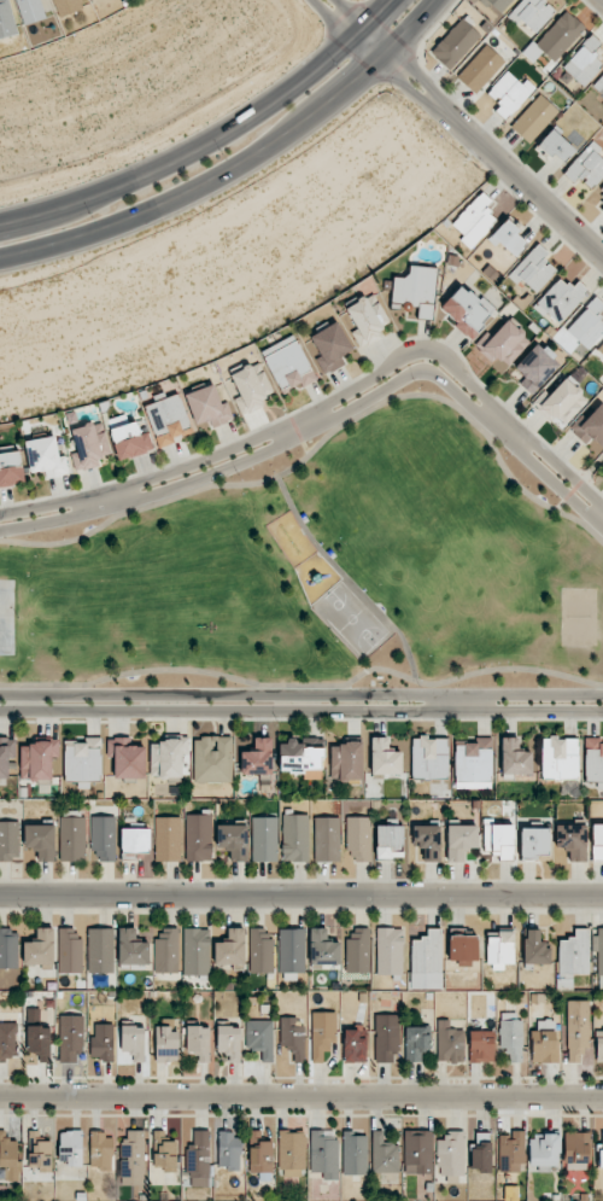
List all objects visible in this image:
building: (499, 4)
building: (68, 6)
building: (31, 10)
building: (532, 13)
building: (6, 21)
building: (455, 43)
building: (584, 62)
building: (480, 69)
building: (599, 84)
building: (509, 93)
building: (533, 117)
road: (464, 127)
road: (211, 139)
building: (557, 145)
road: (239, 164)
building: (586, 167)
building: (601, 191)
building: (602, 208)
building: (474, 220)
building: (508, 238)
building: (533, 269)
building: (415, 290)
building: (560, 301)
building: (466, 310)
building: (367, 316)
building: (587, 323)
building: (503, 343)
building: (329, 346)
building: (601, 348)
road: (410, 356)
building: (288, 365)
building: (535, 367)
road: (408, 375)
building: (251, 387)
building: (563, 401)
building: (207, 406)
building: (168, 419)
road: (301, 426)
building: (591, 427)
road: (508, 430)
building: (128, 437)
road: (324, 441)
road: (304, 442)
building: (89, 445)
building: (46, 457)
road: (205, 461)
building: (11, 468)
road: (210, 472)
road: (567, 476)
road: (560, 483)
road: (579, 485)
road: (106, 500)
road: (40, 508)
road: (601, 515)
road: (41, 520)
park: (321, 572)
road: (347, 578)
park: (8, 617)
park: (580, 617)
park: (353, 619)
road: (304, 684)
road: (218, 696)
road: (544, 696)
road: (462, 702)
road: (544, 709)
road: (219, 710)
building: (6, 754)
building: (127, 757)
building: (385, 757)
building: (168, 758)
building: (258, 758)
building: (429, 758)
building: (515, 758)
building: (560, 758)
building: (37, 759)
building: (83, 759)
building: (212, 759)
building: (300, 759)
building: (474, 759)
building: (593, 759)
building: (346, 760)
building: (104, 836)
building: (198, 836)
building: (294, 838)
building: (72, 839)
building: (168, 839)
building: (264, 839)
building: (327, 839)
building: (358, 839)
building: (498, 839)
building: (10, 840)
building: (41, 840)
building: (461, 840)
building: (233, 841)
building: (390, 841)
building: (427, 841)
building: (572, 841)
building: (597, 841)
building: (134, 843)
building: (534, 844)
road: (301, 896)
building: (40, 948)
building: (230, 948)
building: (534, 948)
building: (8, 949)
building: (323, 949)
building: (463, 949)
building: (500, 949)
building: (598, 949)
building: (70, 950)
building: (100, 950)
building: (133, 950)
building: (260, 950)
building: (292, 950)
building: (166, 951)
building: (197, 951)
building: (358, 951)
building: (390, 951)
building: (572, 957)
building: (427, 961)
building: (578, 1028)
building: (322, 1034)
building: (292, 1036)
building: (511, 1036)
building: (37, 1038)
building: (71, 1038)
building: (260, 1038)
building: (387, 1038)
building: (7, 1040)
building: (544, 1040)
building: (103, 1042)
building: (133, 1042)
building: (198, 1042)
building: (229, 1042)
building: (416, 1042)
building: (449, 1042)
building: (166, 1044)
building: (355, 1044)
building: (481, 1046)
road: (301, 1096)
building: (70, 1148)
building: (576, 1148)
building: (101, 1149)
building: (229, 1150)
building: (544, 1150)
building: (39, 1152)
building: (164, 1152)
building: (417, 1152)
building: (481, 1152)
building: (511, 1152)
building: (291, 1153)
building: (323, 1153)
building: (355, 1153)
building: (384, 1154)
building: (451, 1154)
building: (601, 1155)
building: (260, 1156)
building: (8, 1158)
building: (131, 1159)
building: (199, 1159)

